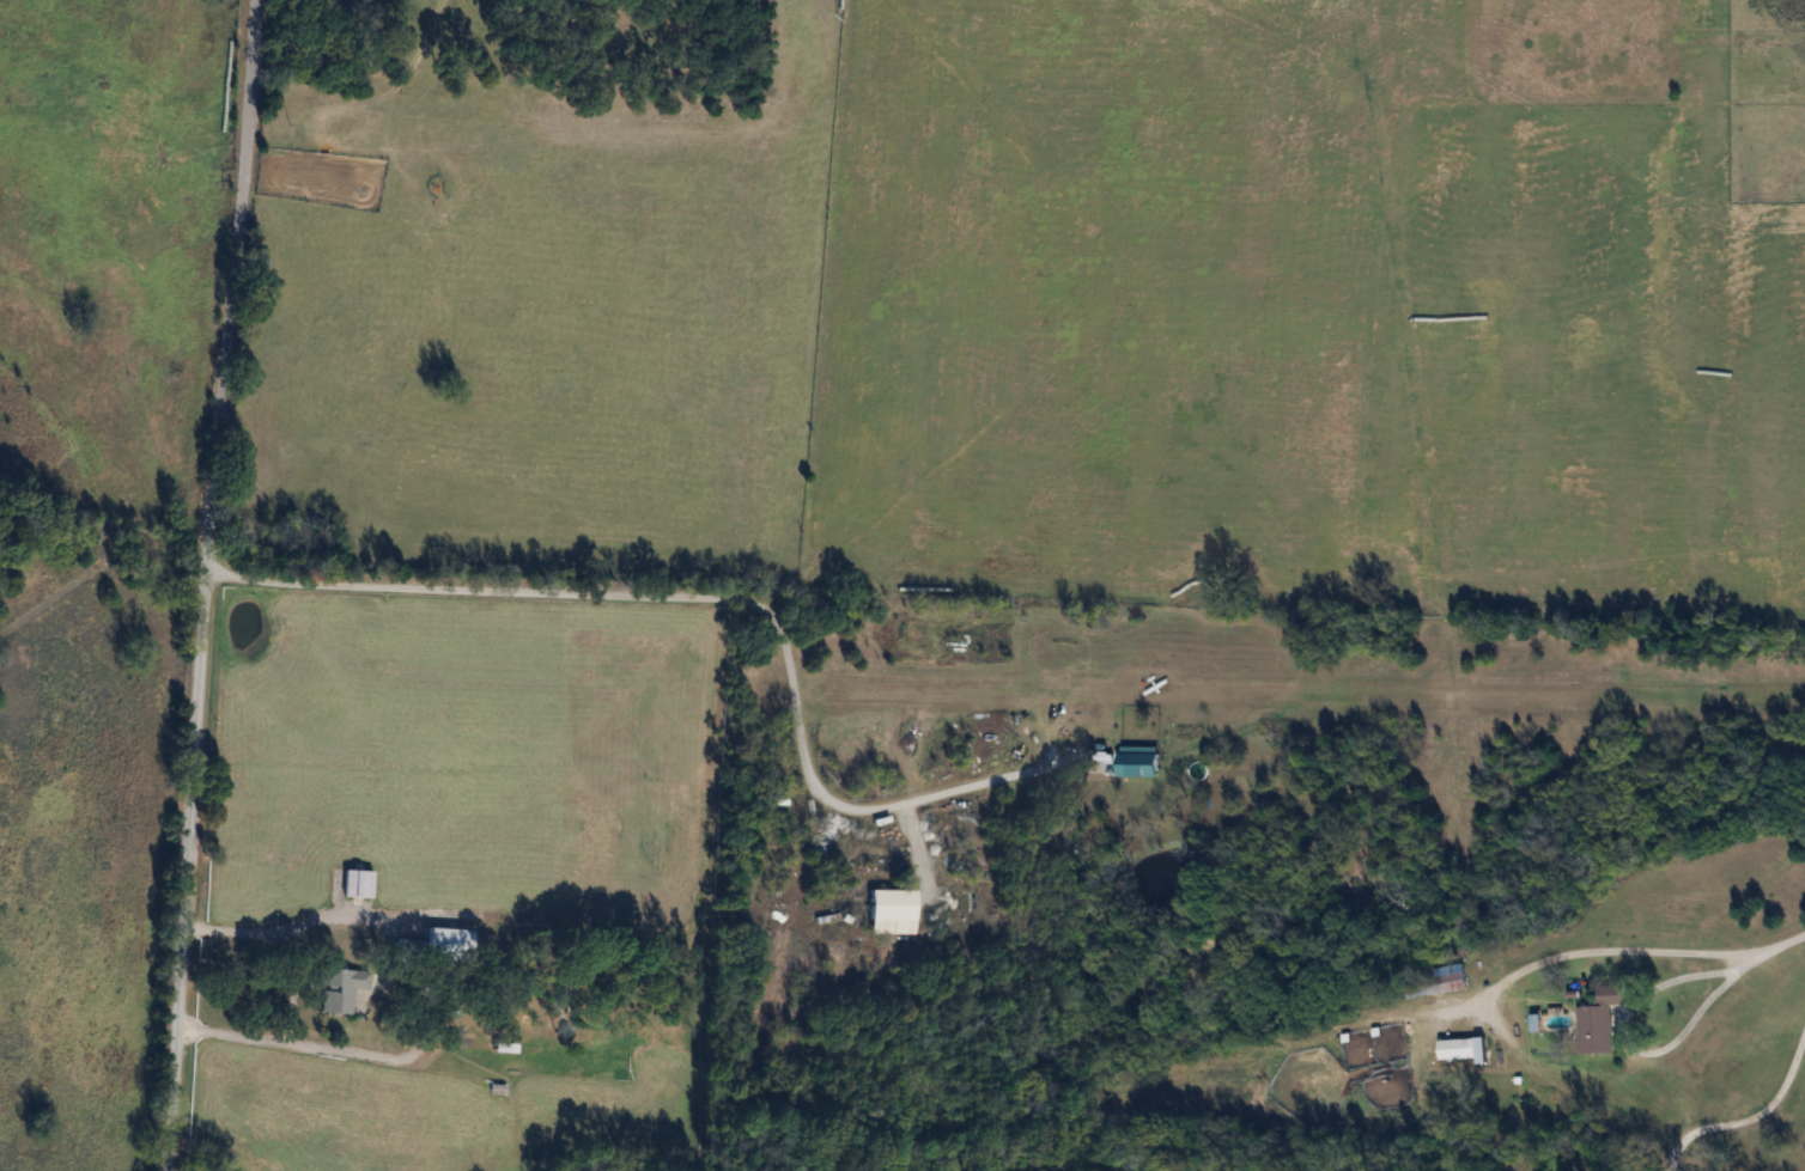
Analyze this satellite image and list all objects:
road: (207, 585)
road: (731, 596)
building: (1141, 760)
building: (352, 883)
building: (893, 910)
road: (333, 913)
building: (448, 944)
road: (1648, 949)
building: (1434, 983)
road: (293, 987)
building: (342, 988)
building: (1600, 1019)
road: (318, 1045)
building: (1463, 1048)
building: (620, 1059)
road: (1752, 1122)

